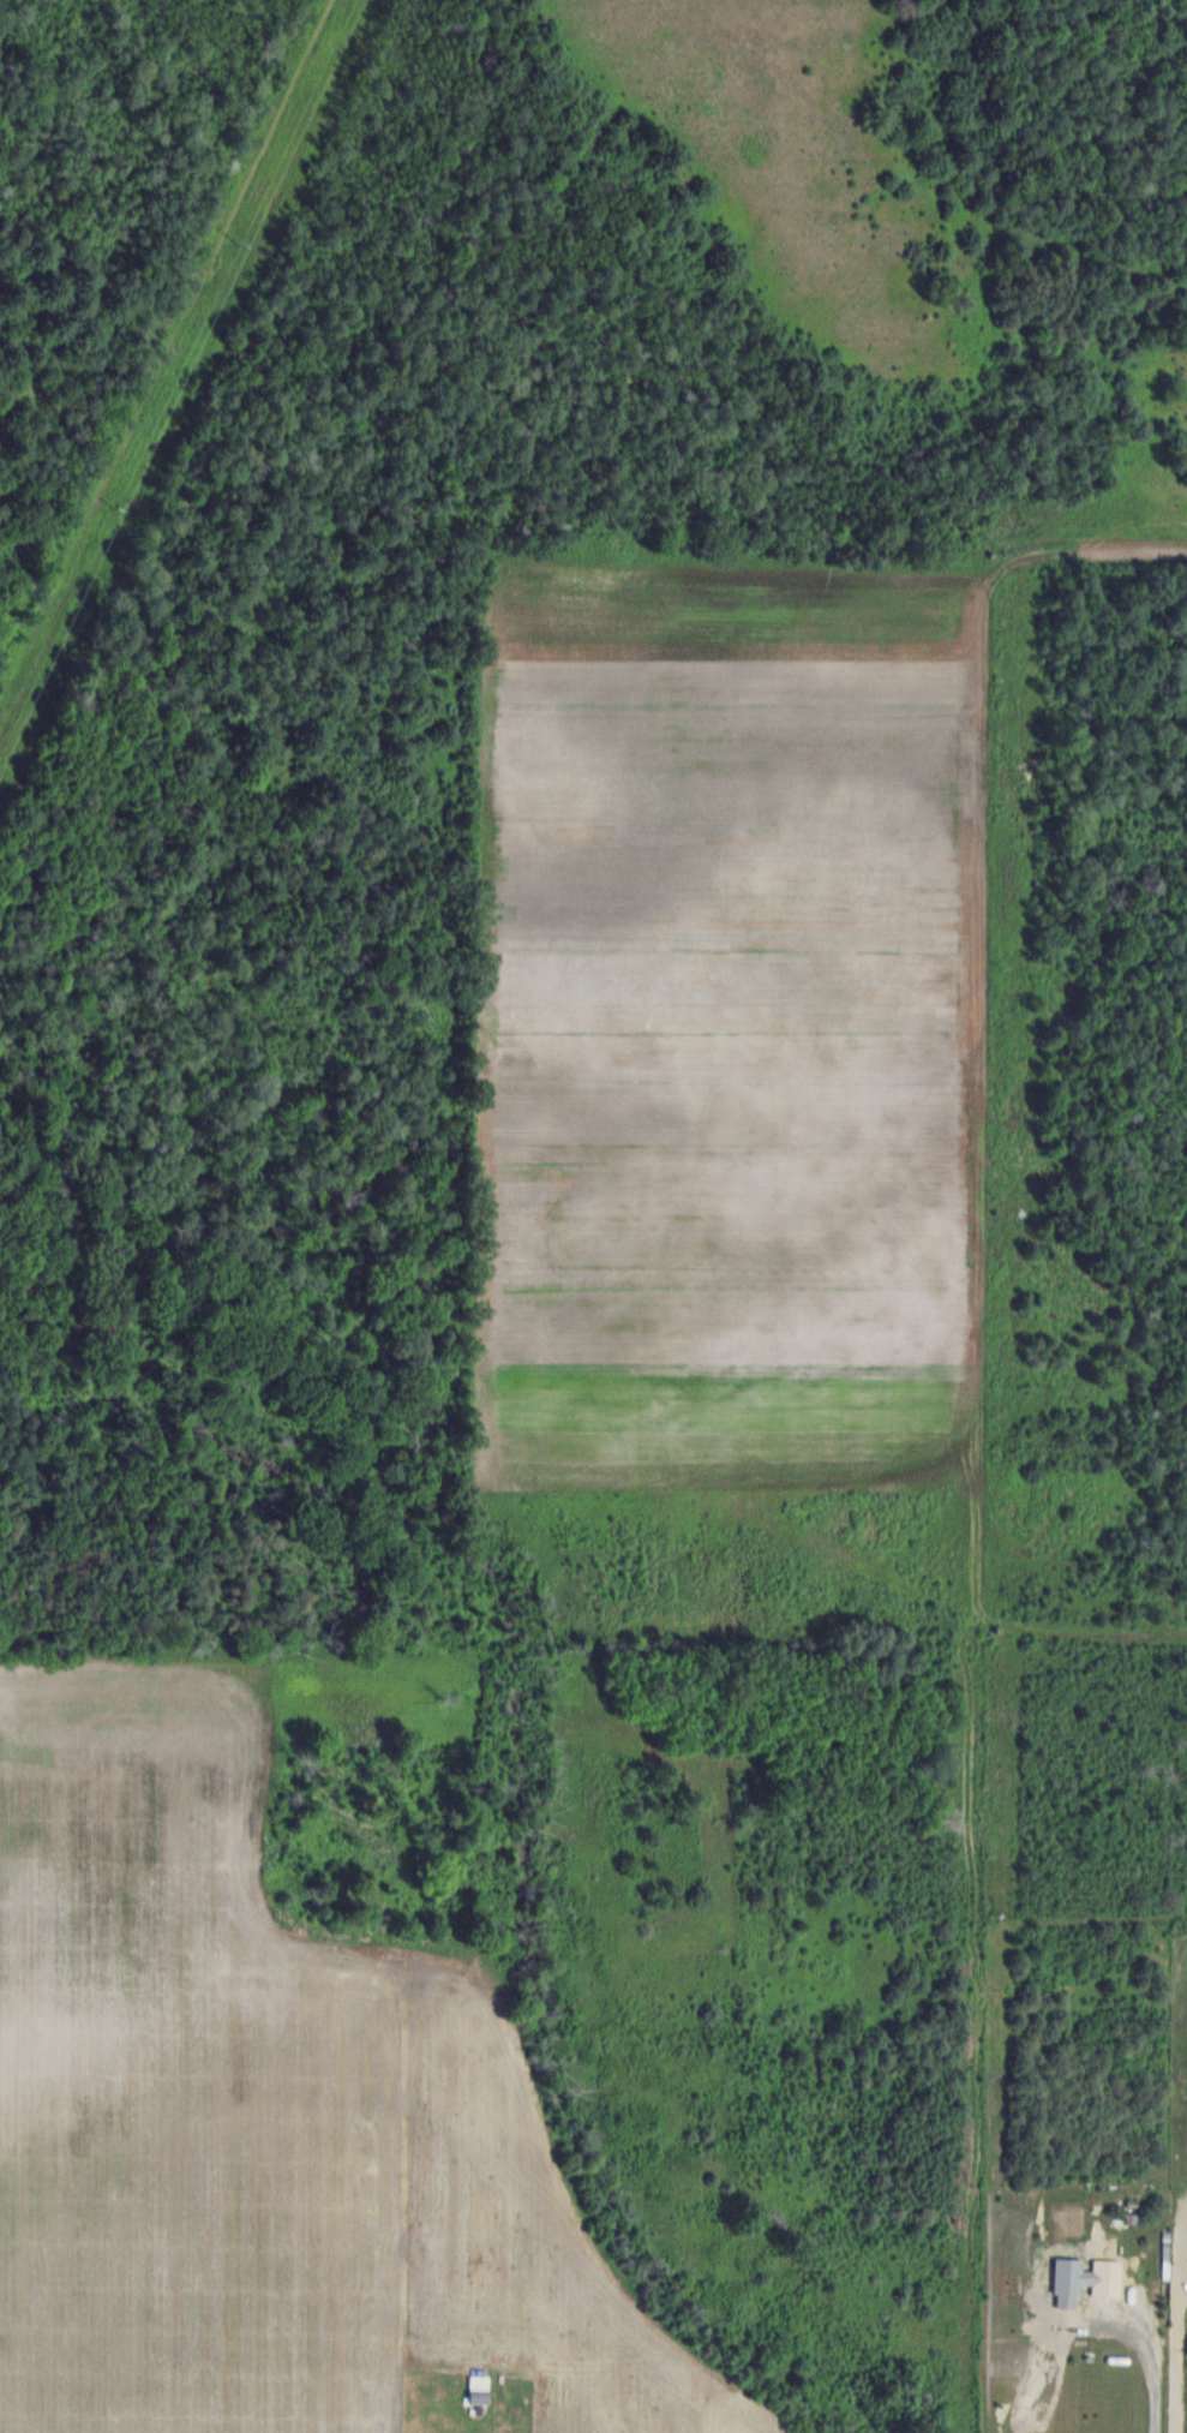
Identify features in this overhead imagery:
building: (479, 2389)

